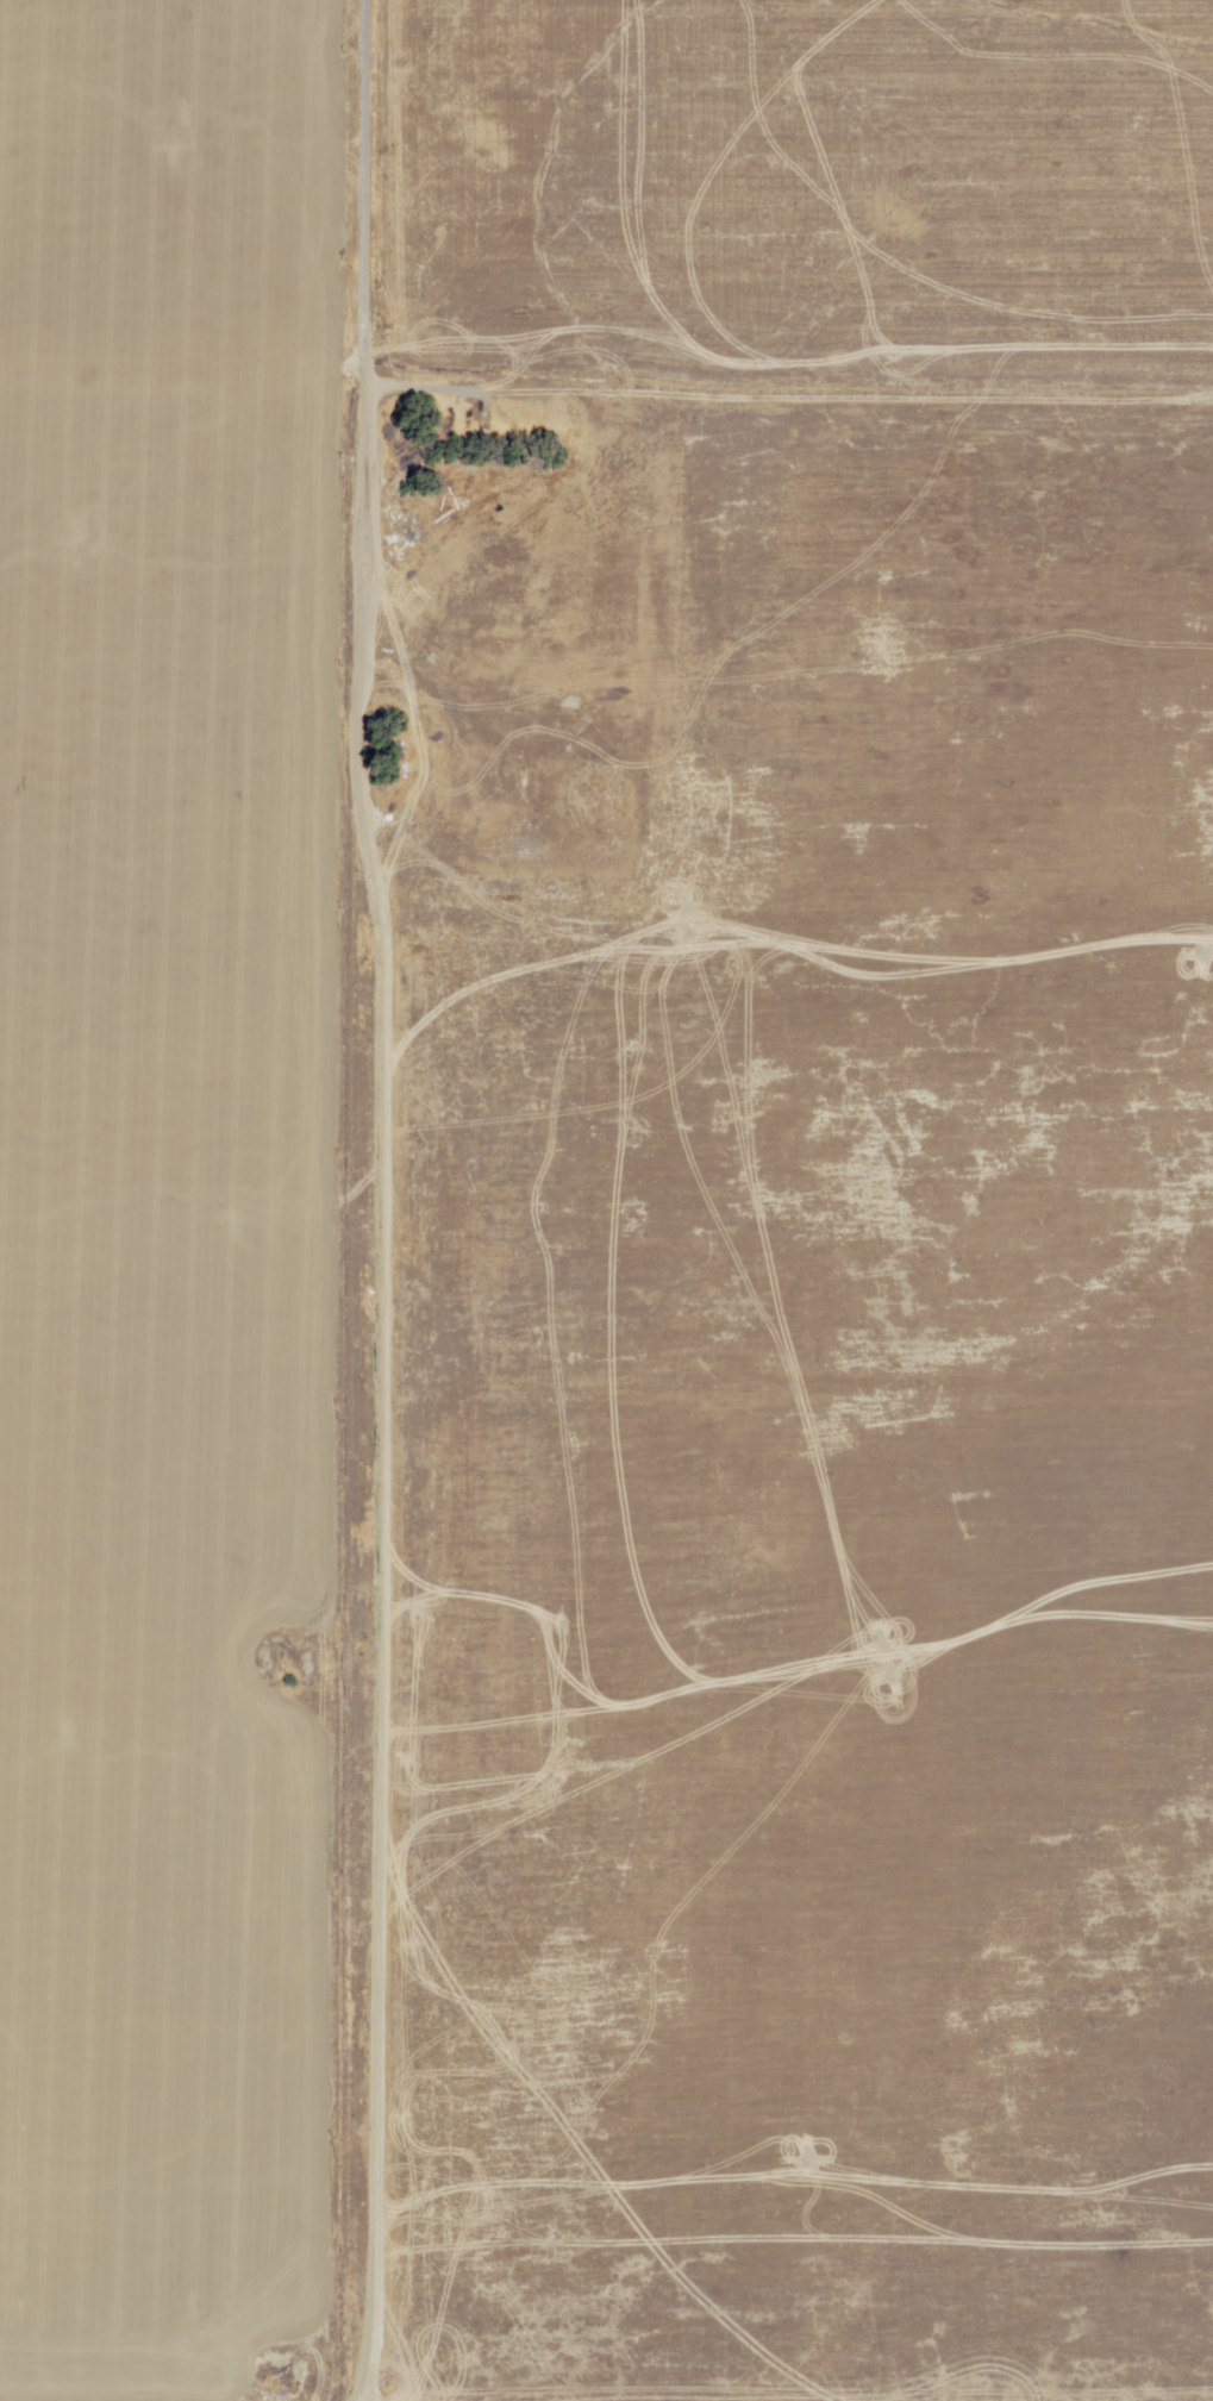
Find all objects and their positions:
road: (606, 321)
road: (424, 1200)

